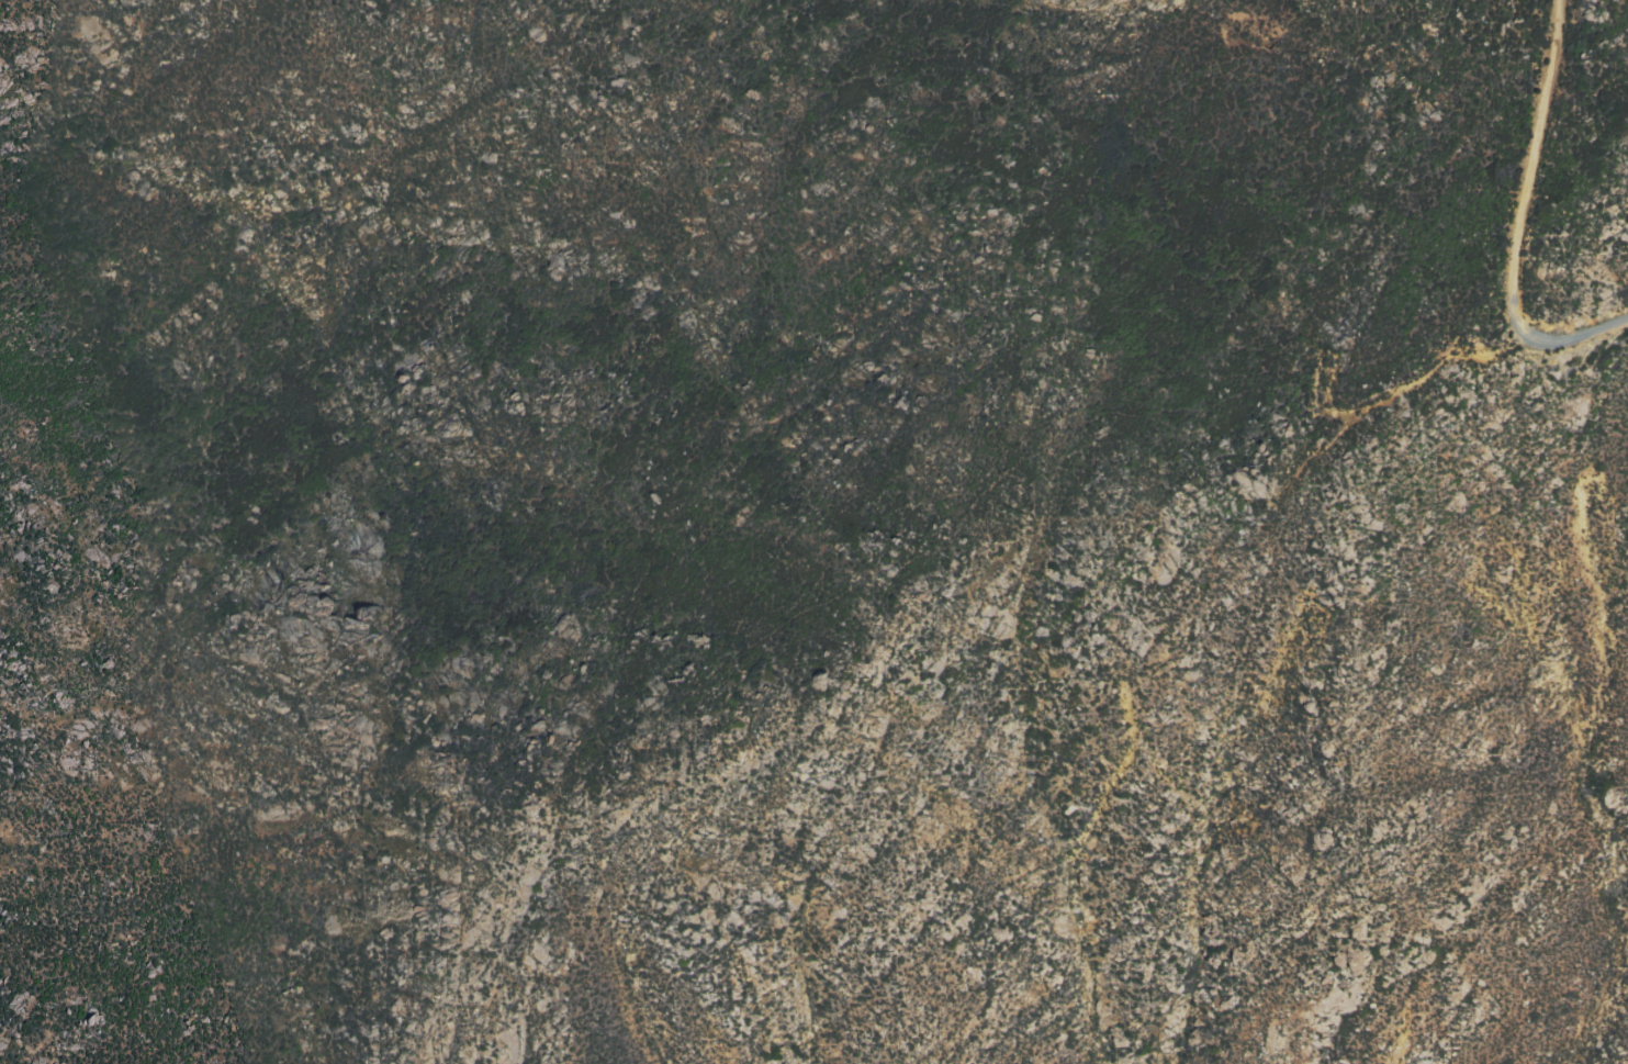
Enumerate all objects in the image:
road: (1515, 222)
road: (1381, 400)

